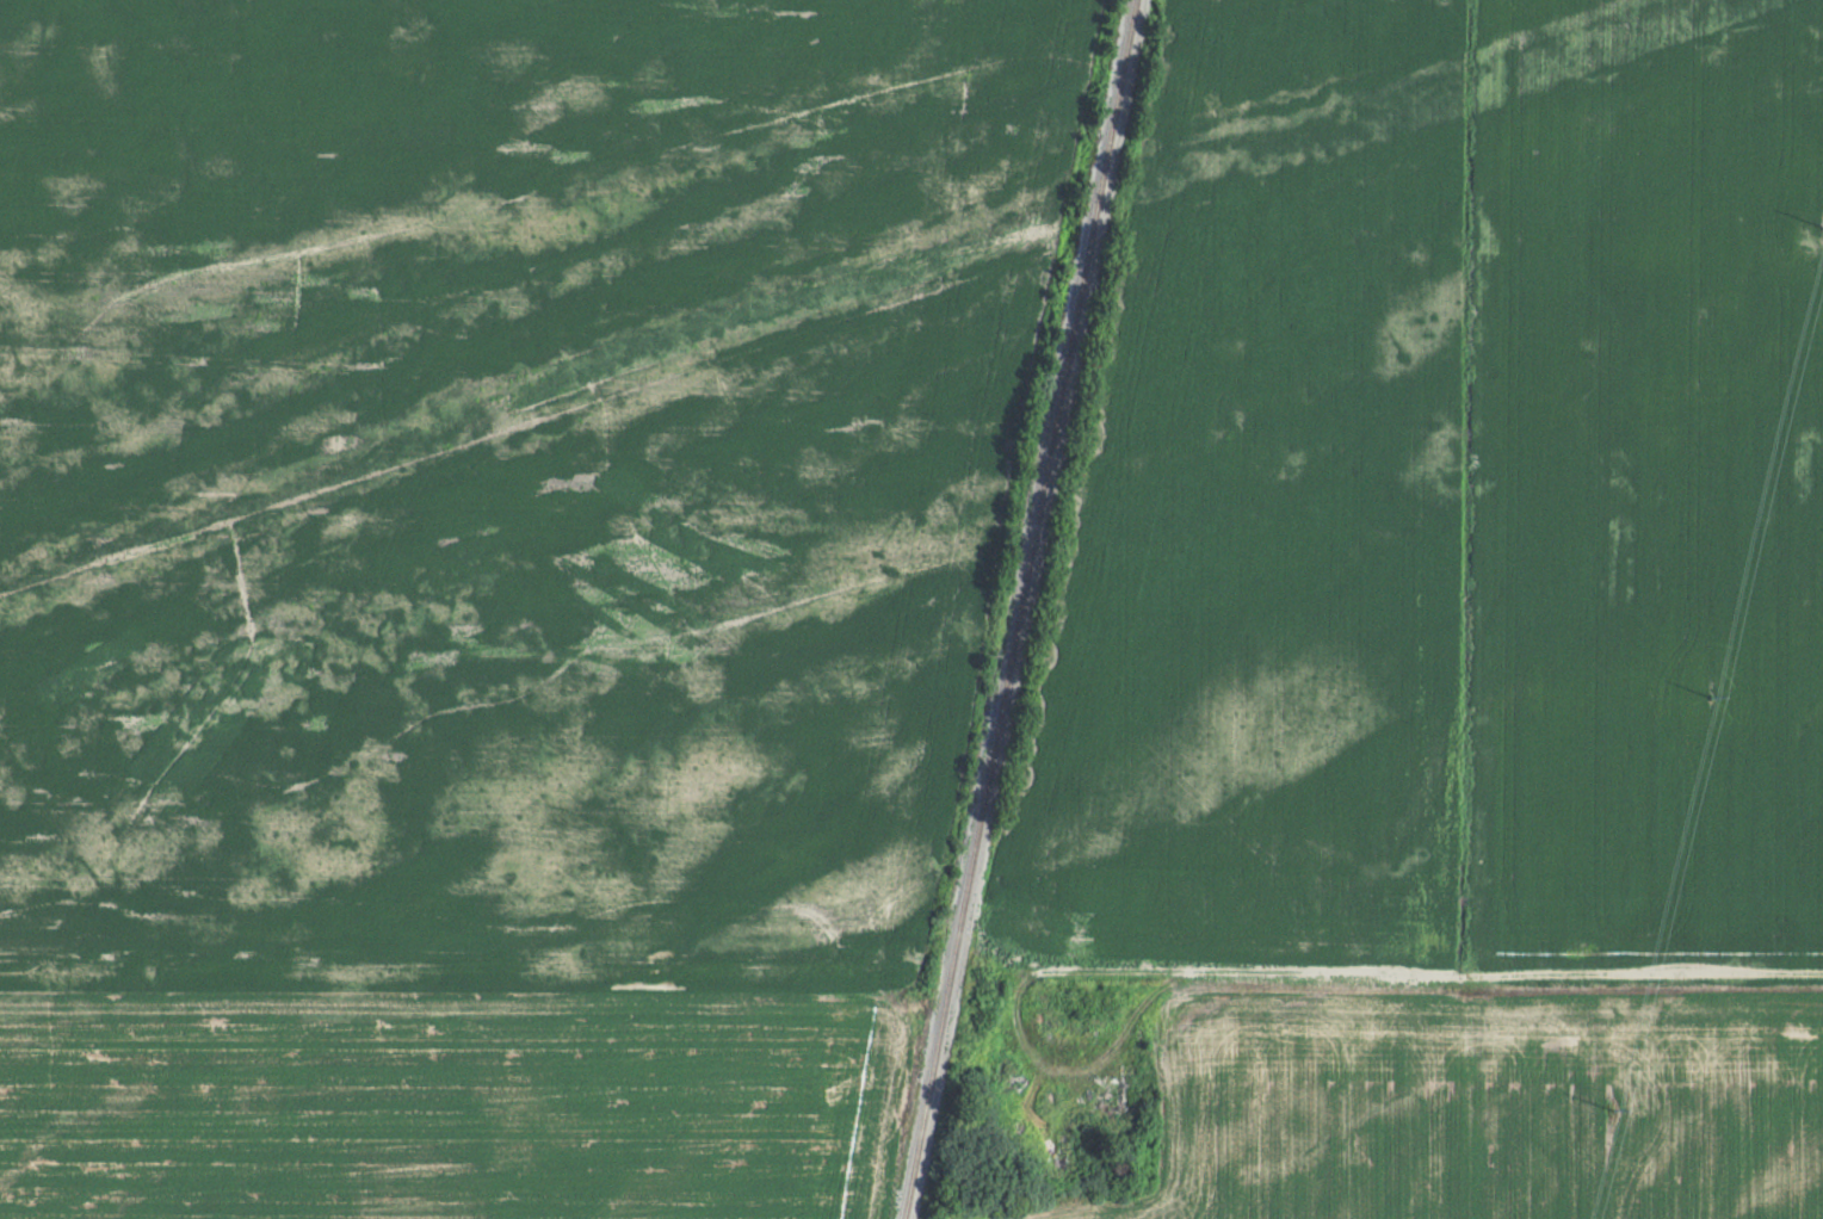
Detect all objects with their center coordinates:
railway: (1020, 609)
road: (444, 1003)

